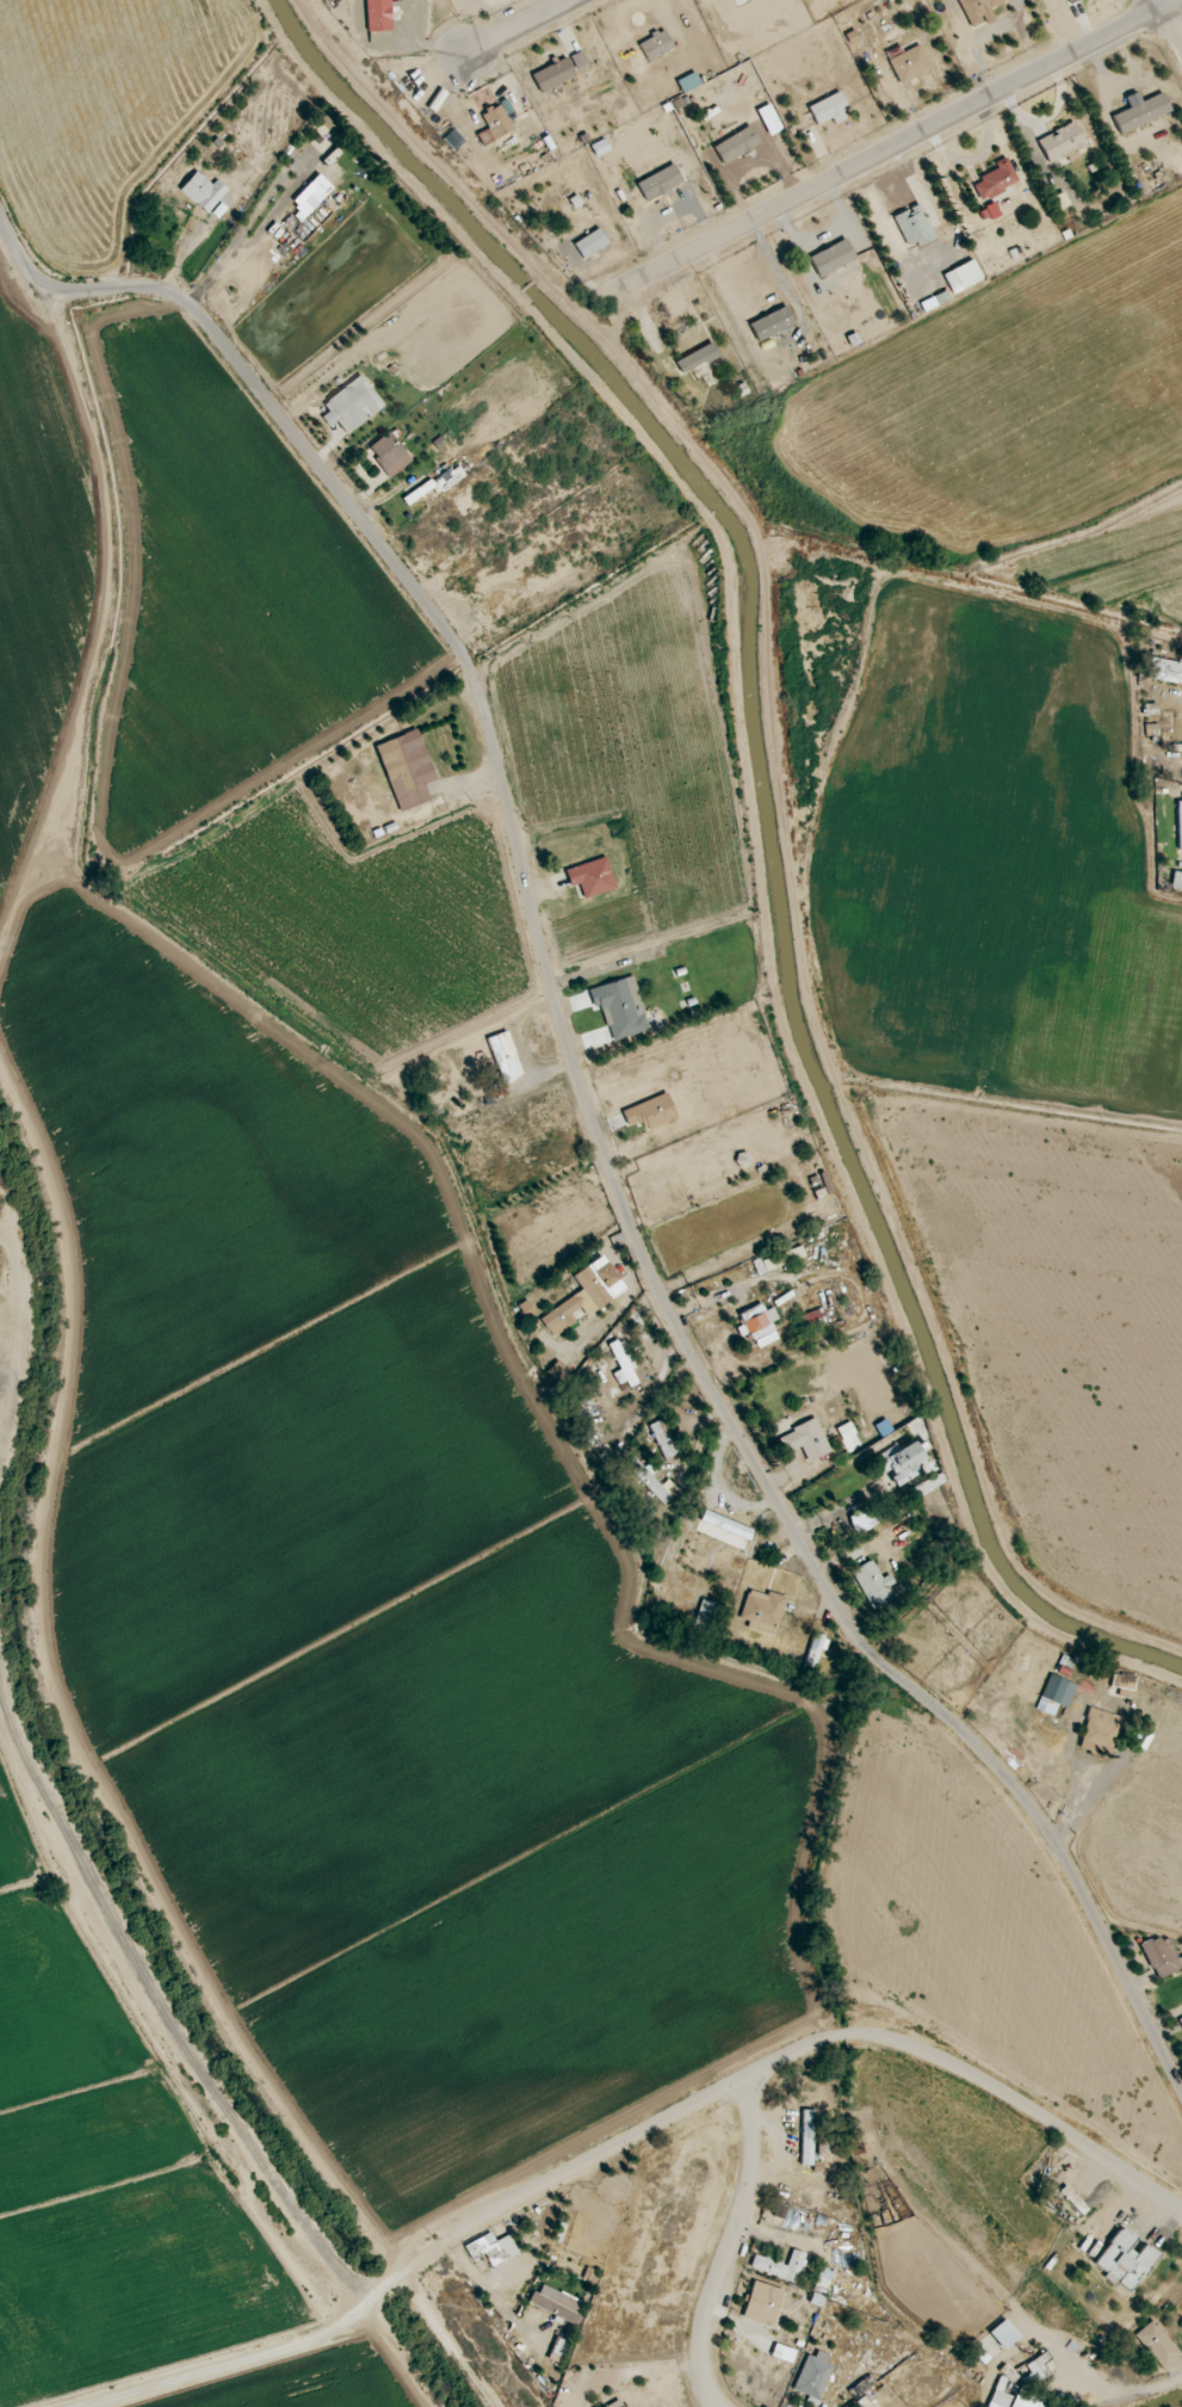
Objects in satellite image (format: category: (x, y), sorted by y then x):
building: (1070, 0)
road: (1162, 4)
building: (978, 11)
road: (1172, 24)
road: (514, 27)
building: (656, 45)
building: (578, 60)
building: (908, 62)
building: (552, 74)
building: (828, 109)
building: (1140, 111)
building: (496, 121)
building: (1062, 142)
building: (736, 144)
road: (889, 149)
building: (996, 180)
building: (660, 181)
building: (203, 191)
building: (314, 196)
building: (915, 226)
building: (590, 243)
building: (833, 258)
building: (963, 276)
road: (13, 292)
building: (772, 323)
building: (697, 358)
building: (352, 405)
building: (390, 453)
building: (437, 483)
building: (1165, 671)
building: (407, 769)
building: (1180, 825)
building: (592, 877)
building: (1176, 880)
building: (620, 1008)
building: (505, 1056)
road: (589, 1110)
building: (651, 1112)
building: (775, 1260)
building: (584, 1296)
building: (760, 1325)
road: (5, 1357)
building: (623, 1357)
building: (662, 1439)
building: (805, 1440)
building: (898, 1462)
building: (648, 1480)
building: (923, 1487)
building: (861, 1520)
building: (724, 1530)
building: (877, 1584)
building: (761, 1611)
building: (704, 1615)
building: (1124, 1684)
building: (1056, 1696)
building: (1099, 1733)
building: (1162, 1956)
road: (156, 2006)
building: (1180, 2022)
road: (767, 2069)
building: (806, 2137)
building: (493, 2248)
road: (728, 2248)
building: (1126, 2258)
building: (780, 2266)
building: (556, 2303)
building: (763, 2303)
building: (1003, 2334)
building: (1157, 2344)
building: (1038, 2366)
building: (812, 2377)
building: (1013, 2399)

